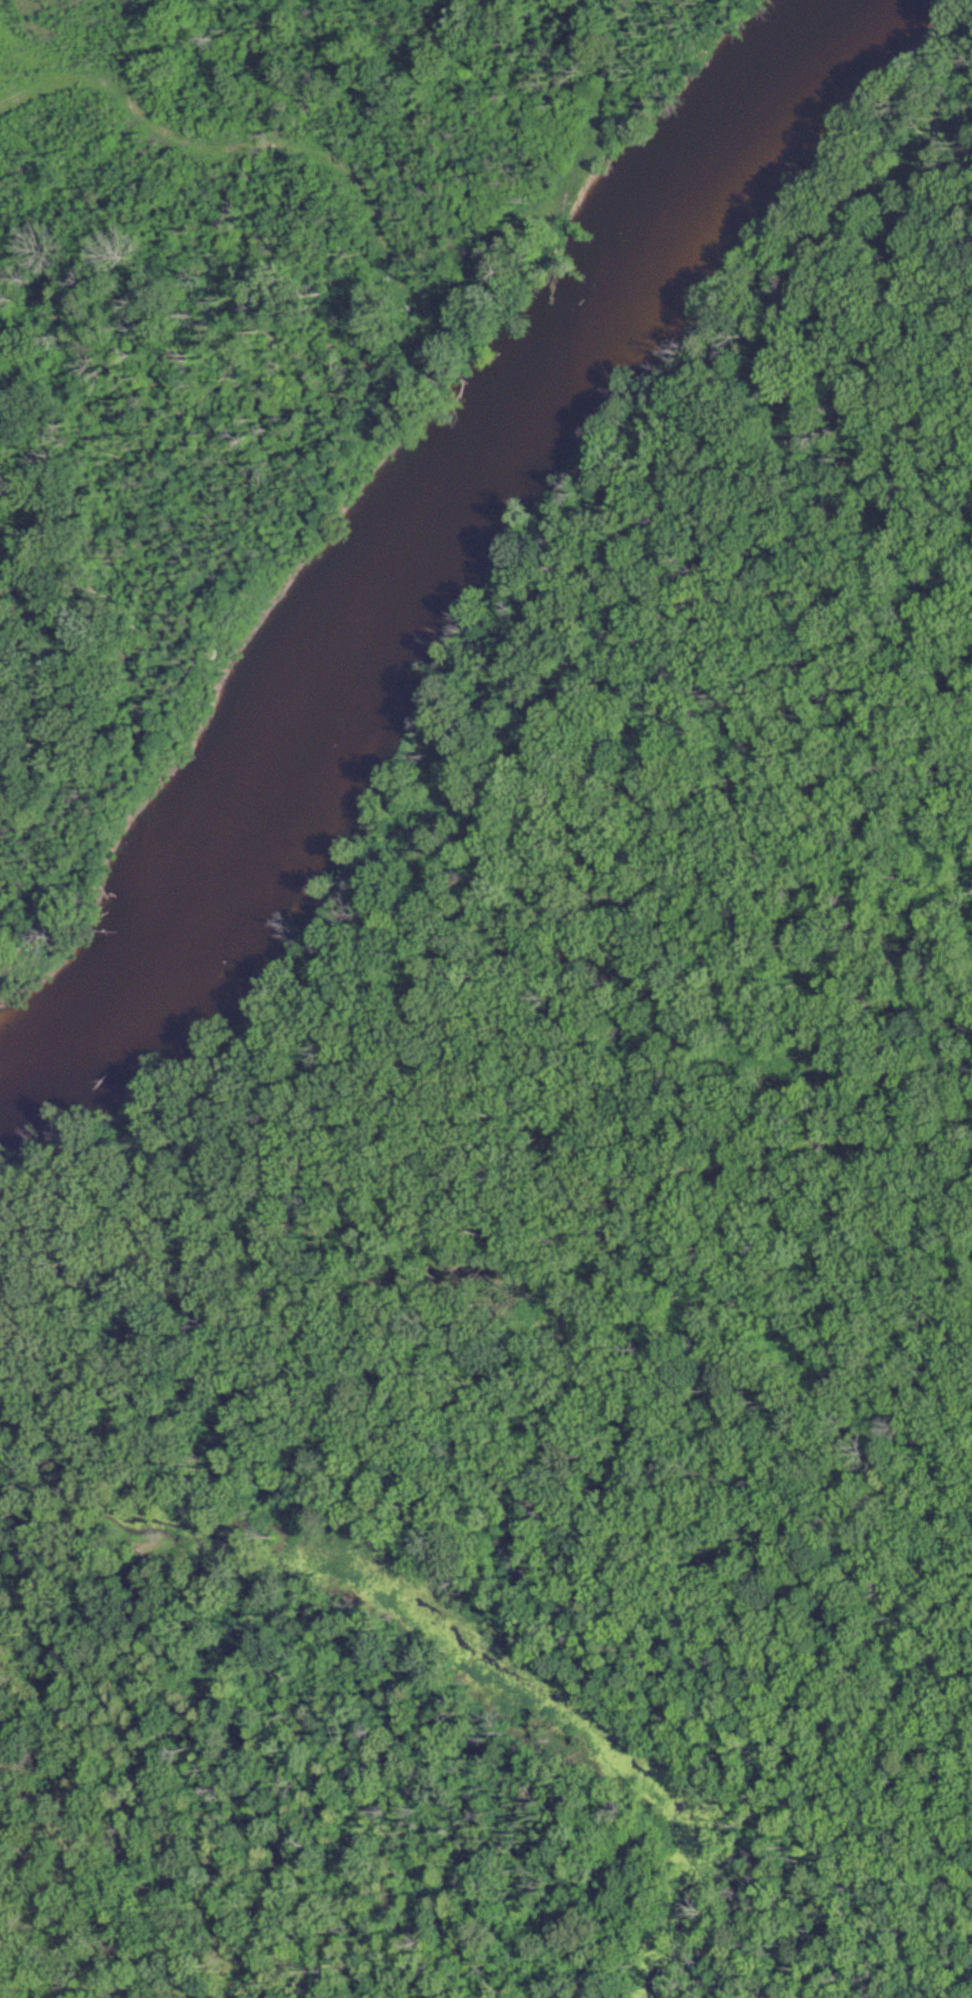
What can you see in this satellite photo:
river: (444, 546)

